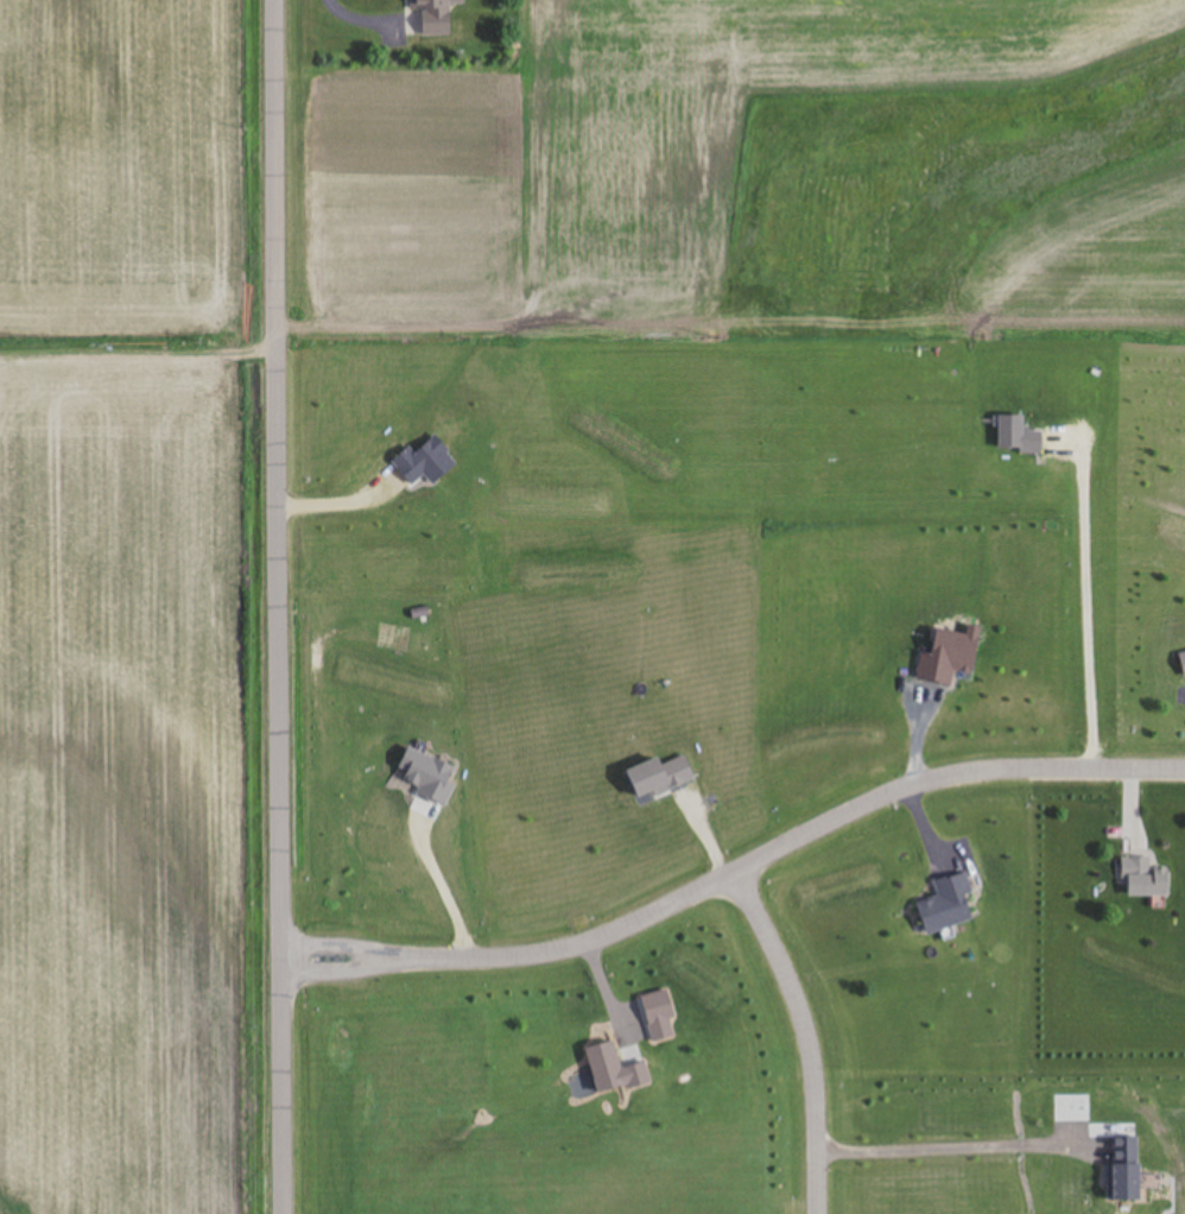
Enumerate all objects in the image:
road: (369, 7)
building: (435, 15)
road: (336, 494)
road: (1090, 584)
road: (271, 607)
crop: (131, 609)
building: (950, 656)
building: (1183, 662)
building: (660, 776)
road: (731, 870)
building: (1143, 878)
road: (448, 881)
road: (806, 1033)
road: (939, 1147)

